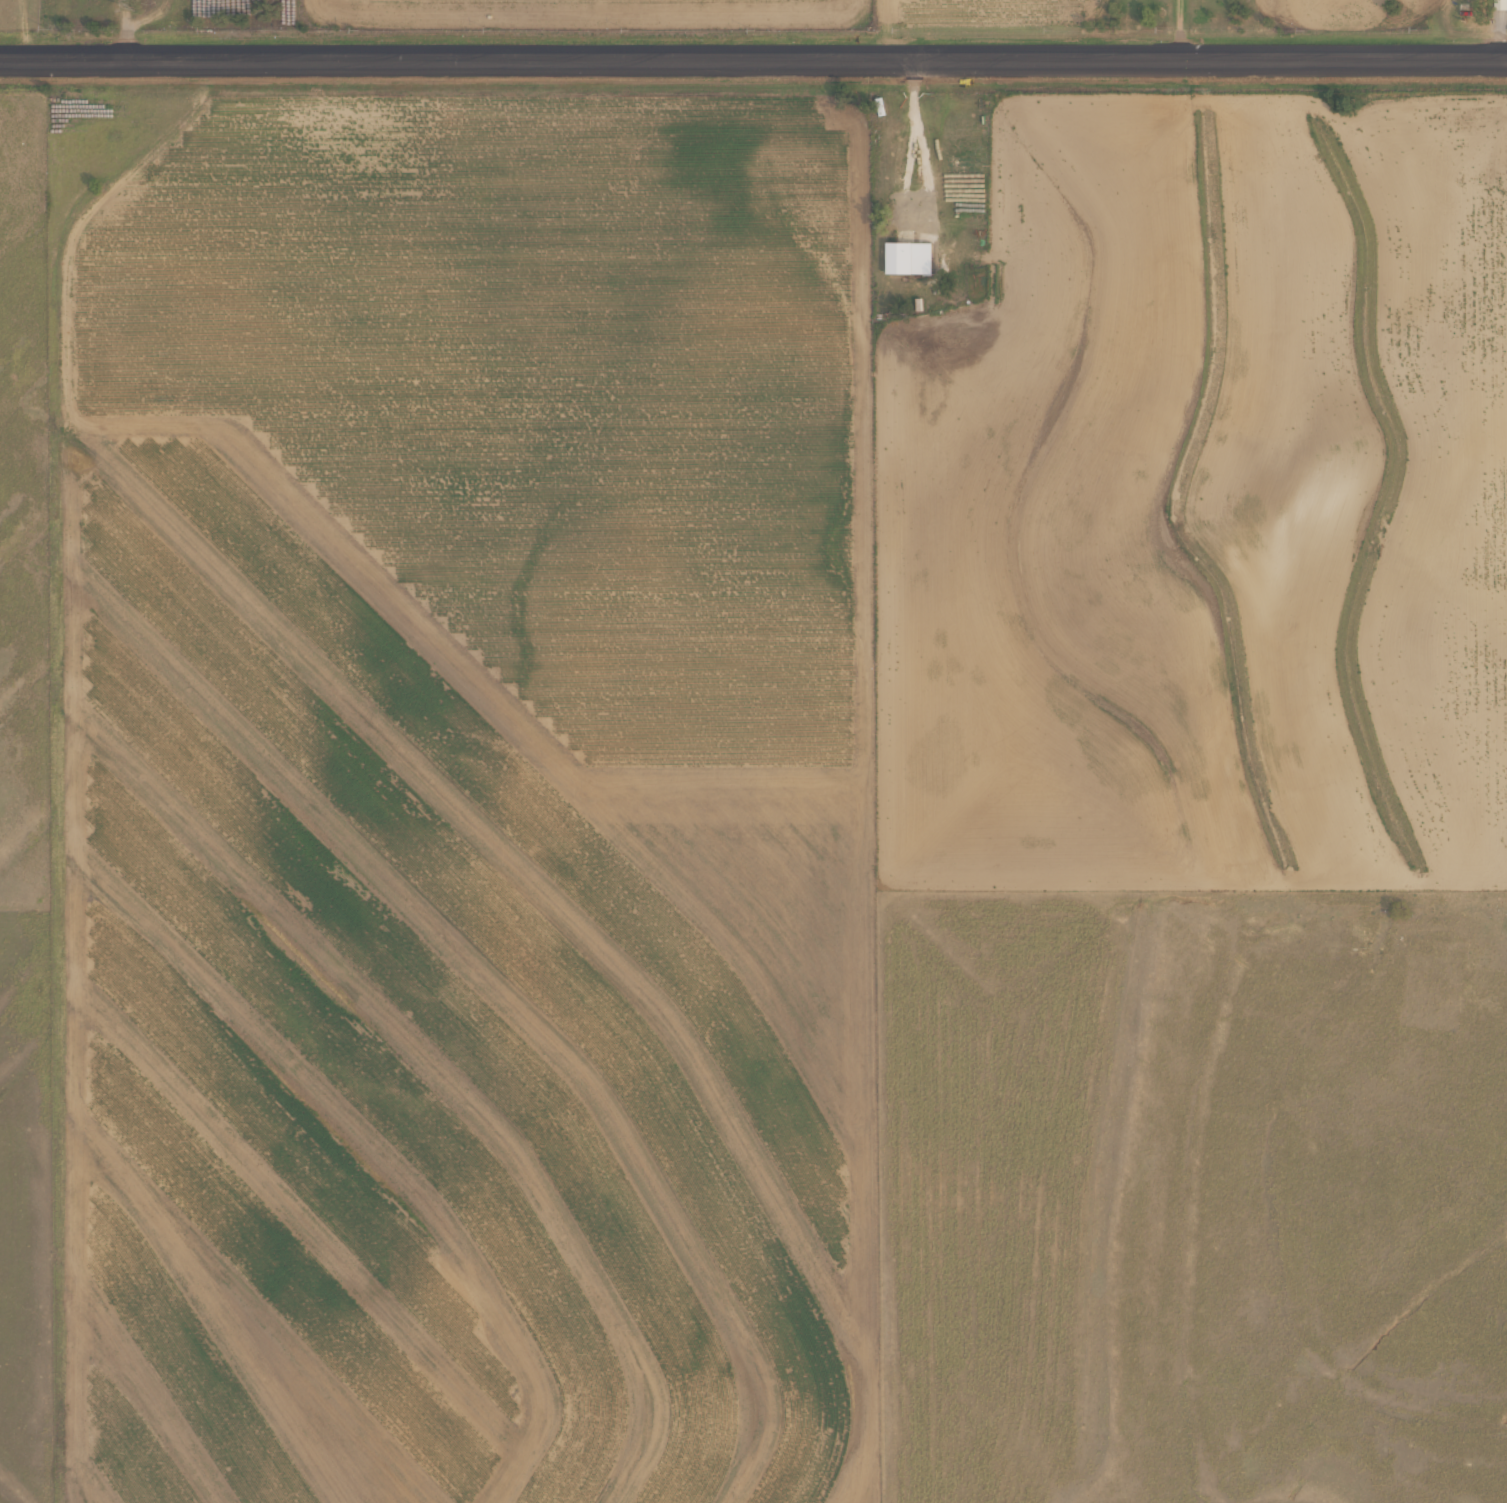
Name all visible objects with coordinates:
road: (753, 66)
building: (884, 107)
building: (907, 253)
road: (74, 784)

